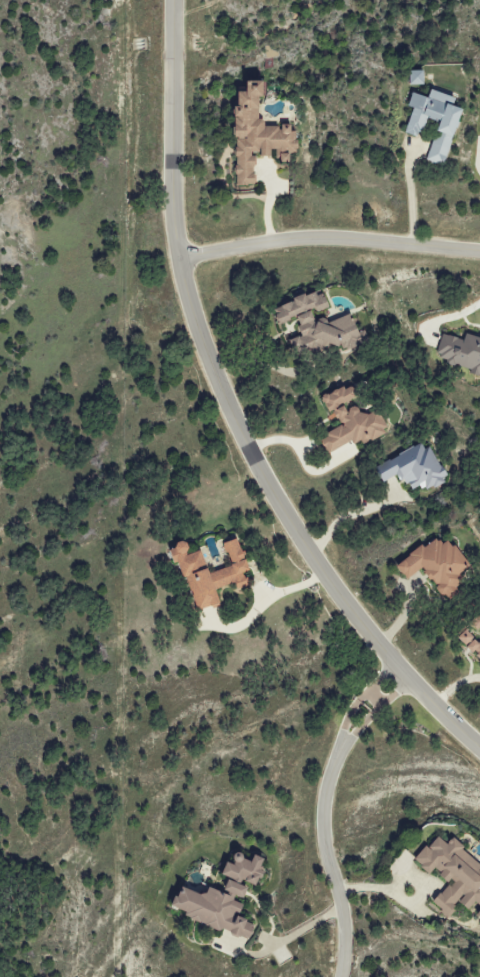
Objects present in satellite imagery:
building: (418, 77)
building: (449, 127)
building: (261, 134)
road: (412, 190)
road: (329, 233)
road: (451, 315)
building: (320, 323)
building: (460, 351)
road: (231, 412)
building: (351, 421)
road: (302, 456)
building: (415, 469)
road: (345, 517)
building: (438, 565)
building: (217, 578)
building: (478, 623)
building: (471, 642)
road: (374, 698)
road: (355, 704)
road: (370, 716)
road: (328, 866)
building: (248, 870)
building: (454, 873)
building: (219, 909)
building: (479, 919)

